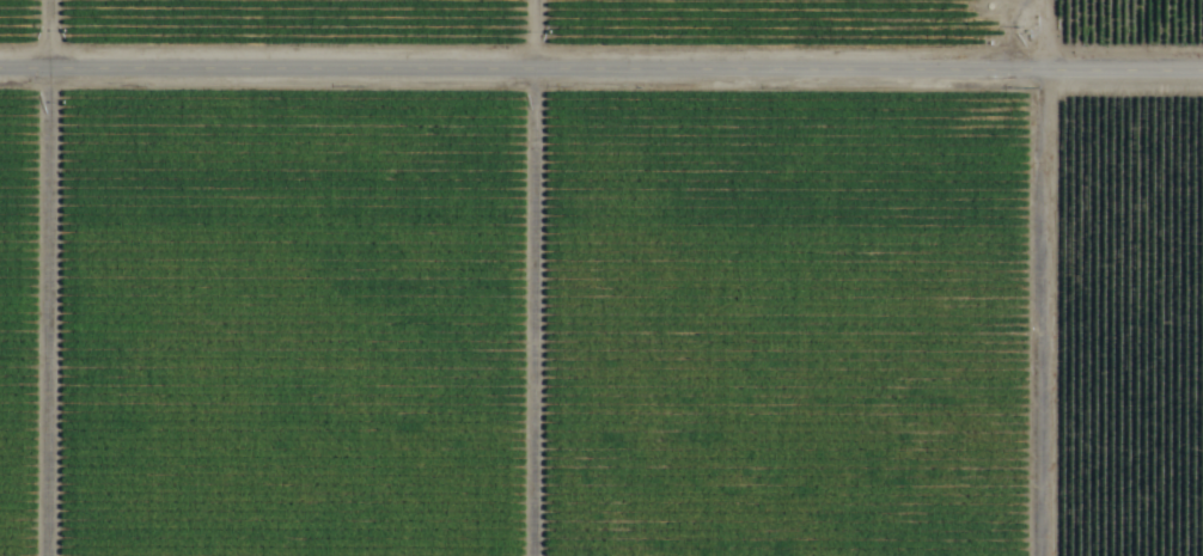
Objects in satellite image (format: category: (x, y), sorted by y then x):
road: (601, 73)
crop: (601, 277)

